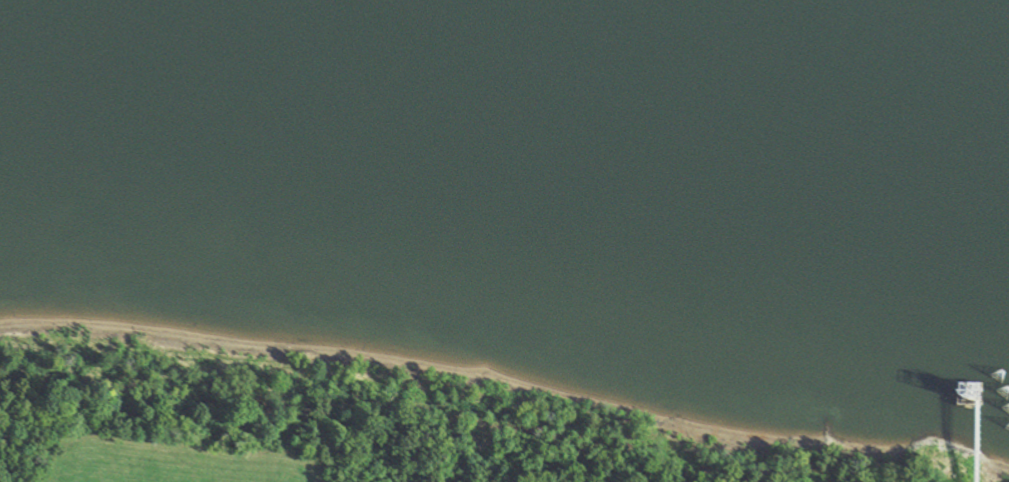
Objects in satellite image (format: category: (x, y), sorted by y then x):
river: (938, 19)

